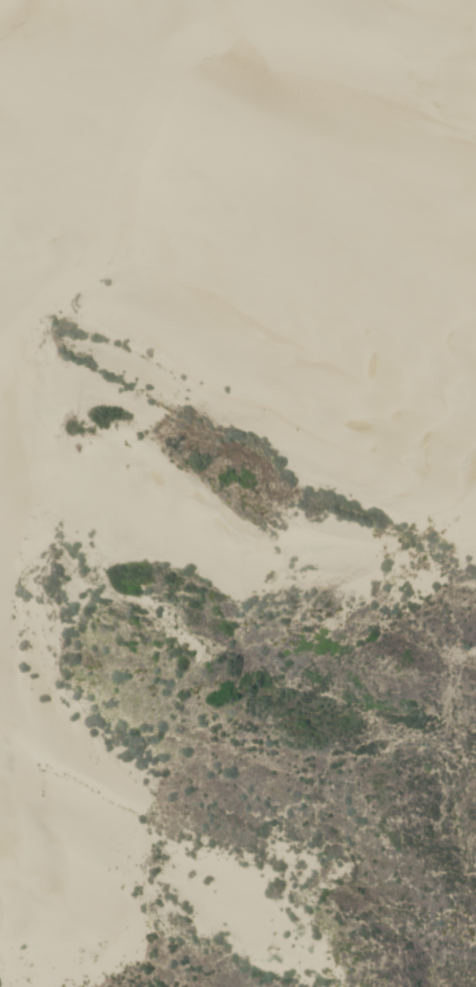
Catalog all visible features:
park: (238, 493)

